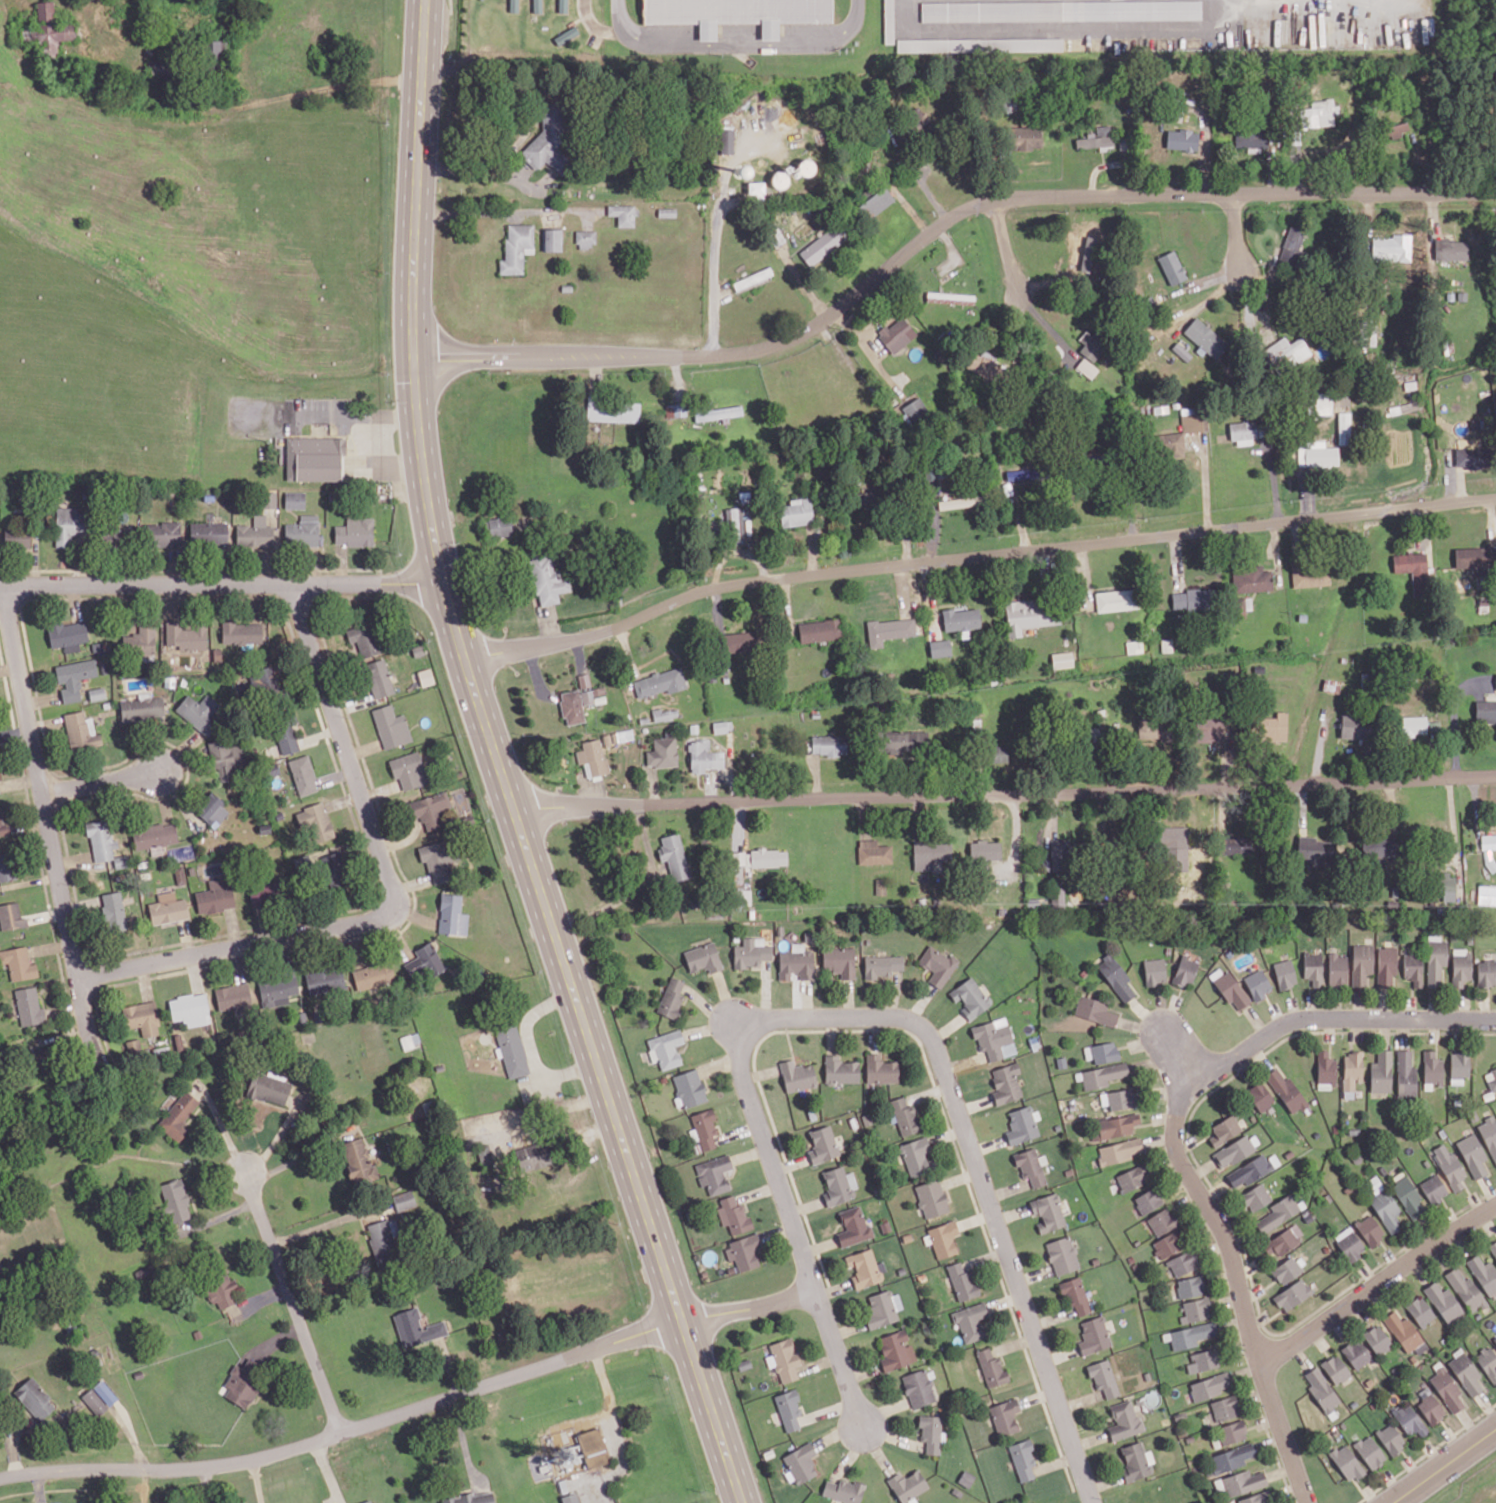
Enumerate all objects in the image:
building: (514, 5)
building: (537, 6)
building: (563, 6)
building: (1061, 10)
building: (736, 13)
road: (1320, 17)
building: (889, 21)
road: (1051, 26)
building: (50, 29)
road: (424, 33)
building: (566, 35)
road: (737, 41)
building: (979, 44)
building: (214, 49)
building: (1318, 114)
building: (919, 119)
building: (1394, 130)
building: (1023, 137)
building: (1250, 137)
building: (1097, 139)
building: (1181, 139)
building: (727, 140)
building: (547, 141)
building: (1110, 154)
road: (469, 172)
building: (779, 179)
building: (755, 188)
building: (876, 202)
building: (667, 212)
building: (623, 214)
road: (937, 228)
road: (1236, 233)
building: (552, 239)
building: (585, 239)
building: (823, 244)
building: (1291, 244)
building: (516, 247)
building: (1388, 247)
building: (1450, 249)
road: (1007, 252)
building: (1172, 267)
road: (713, 274)
building: (753, 278)
building: (950, 298)
building: (896, 334)
building: (1204, 338)
building: (1091, 345)
building: (1181, 351)
building: (1285, 352)
building: (984, 365)
building: (1087, 367)
building: (1323, 403)
building: (1402, 408)
building: (613, 409)
building: (675, 410)
building: (914, 410)
building: (718, 412)
building: (1193, 420)
building: (1343, 428)
building: (1243, 431)
building: (1167, 445)
building: (1317, 454)
building: (1470, 457)
building: (314, 458)
building: (1022, 474)
building: (269, 499)
building: (295, 500)
building: (960, 502)
building: (796, 512)
building: (68, 524)
building: (735, 525)
building: (500, 526)
building: (303, 531)
building: (208, 532)
building: (355, 532)
building: (255, 533)
building: (163, 534)
building: (113, 536)
building: (17, 537)
road: (975, 556)
building: (1470, 558)
building: (1413, 570)
street lamp: (325, 571)
building: (1310, 576)
building: (1251, 579)
building: (547, 580)
road: (221, 584)
building: (1193, 599)
building: (1116, 600)
building: (1244, 603)
building: (1028, 615)
building: (961, 619)
building: (819, 630)
building: (889, 630)
building: (241, 632)
building: (68, 635)
building: (186, 635)
building: (364, 639)
building: (140, 641)
building: (741, 641)
building: (1134, 646)
building: (940, 647)
building: (1062, 659)
building: (425, 676)
building: (74, 677)
building: (379, 678)
building: (584, 680)
building: (1495, 680)
building: (660, 682)
building: (266, 684)
building: (1331, 685)
building: (97, 693)
building: (587, 697)
building: (142, 707)
building: (572, 707)
building: (199, 712)
building: (665, 714)
building: (1413, 725)
building: (391, 726)
building: (722, 726)
building: (1354, 726)
building: (1434, 726)
building: (1271, 727)
building: (1154, 728)
building: (1208, 729)
building: (81, 731)
building: (286, 737)
building: (903, 741)
building: (829, 744)
road: (364, 748)
building: (662, 752)
building: (997, 753)
building: (704, 756)
building: (225, 757)
building: (592, 757)
building: (409, 770)
building: (303, 774)
road: (336, 776)
road: (102, 783)
building: (0, 789)
road: (380, 790)
road: (1005, 795)
road: (510, 796)
road: (344, 800)
building: (429, 809)
building: (212, 810)
building: (315, 821)
building: (2, 824)
road: (49, 824)
building: (154, 837)
building: (101, 840)
building: (1488, 841)
building: (1236, 844)
building: (1174, 847)
building: (1379, 847)
building: (1313, 848)
building: (985, 849)
building: (873, 852)
building: (931, 853)
building: (1059, 855)
building: (674, 856)
building: (306, 859)
building: (438, 859)
building: (756, 860)
building: (8, 865)
building: (334, 877)
road: (31, 880)
street lamp: (70, 883)
building: (1447, 887)
building: (264, 892)
building: (1486, 895)
building: (215, 896)
building: (1057, 897)
road: (390, 898)
building: (168, 908)
building: (114, 911)
building: (452, 915)
building: (11, 916)
road: (48, 916)
road: (233, 926)
road: (186, 938)
road: (51, 946)
building: (1267, 948)
street lamp: (149, 951)
building: (751, 952)
building: (1228, 952)
building: (703, 958)
building: (424, 960)
building: (840, 961)
building: (1436, 961)
building: (796, 962)
building: (18, 963)
building: (1361, 963)
building: (937, 965)
building: (1386, 965)
building: (882, 966)
building: (1461, 966)
building: (1313, 968)
building: (1413, 968)
building: (1337, 969)
building: (1154, 971)
building: (1184, 971)
road: (195, 973)
building: (1284, 973)
building: (1486, 973)
building: (373, 975)
building: (1115, 977)
building: (325, 980)
road: (145, 981)
building: (1256, 984)
building: (277, 988)
building: (1231, 991)
building: (233, 997)
building: (671, 998)
road: (848, 998)
building: (970, 998)
building: (29, 1006)
building: (1095, 1010)
street lamp: (926, 1013)
road: (855, 1016)
building: (141, 1017)
road: (1340, 1017)
road: (1256, 1020)
street lamp: (1446, 1028)
road: (1434, 1029)
road: (831, 1033)
road: (873, 1033)
building: (994, 1038)
road: (788, 1039)
building: (666, 1048)
building: (511, 1050)
building: (1101, 1051)
road: (1184, 1056)
road: (925, 1060)
building: (1326, 1067)
building: (1432, 1067)
building: (1458, 1067)
building: (880, 1069)
building: (1352, 1069)
building: (840, 1070)
road: (760, 1072)
building: (1381, 1072)
building: (1406, 1073)
building: (797, 1075)
building: (1102, 1075)
building: (1491, 1078)
building: (1005, 1082)
building: (690, 1087)
building: (268, 1089)
building: (1286, 1091)
road: (929, 1093)
building: (1260, 1096)
building: (856, 1097)
building: (1120, 1097)
building: (179, 1115)
building: (905, 1115)
building: (867, 1118)
building: (852, 1121)
building: (1021, 1124)
building: (1117, 1124)
building: (705, 1128)
road: (223, 1129)
building: (1224, 1130)
road: (737, 1132)
road: (947, 1134)
building: (1489, 1135)
building: (822, 1144)
building: (1118, 1150)
building: (1234, 1151)
road: (297, 1153)
road: (749, 1153)
building: (916, 1155)
building: (1472, 1155)
building: (358, 1159)
building: (534, 1161)
road: (790, 1163)
building: (1030, 1166)
building: (1448, 1166)
building: (1249, 1171)
building: (714, 1173)
road: (959, 1176)
building: (1131, 1178)
building: (836, 1185)
building: (1433, 1188)
road: (1488, 1189)
road: (757, 1191)
building: (931, 1197)
building: (1256, 1197)
building: (1408, 1197)
building: (175, 1200)
building: (404, 1200)
building: (1147, 1200)
street lamp: (1003, 1203)
road: (805, 1205)
building: (1387, 1211)
building: (1047, 1212)
building: (1278, 1213)
building: (733, 1214)
road: (791, 1218)
road: (975, 1218)
street lamp: (778, 1220)
building: (1162, 1220)
road: (324, 1225)
building: (884, 1225)
building: (853, 1227)
building: (1370, 1230)
building: (906, 1236)
building: (380, 1237)
building: (944, 1238)
building: (1284, 1241)
building: (1349, 1244)
road: (818, 1245)
building: (1166, 1245)
building: (1493, 1247)
building: (744, 1251)
building: (1062, 1255)
road: (984, 1258)
building: (1183, 1263)
building: (862, 1268)
building: (900, 1269)
building: (1287, 1270)
road: (1013, 1272)
building: (1483, 1273)
building: (962, 1280)
road: (1239, 1283)
road: (1378, 1284)
building: (1190, 1286)
road: (833, 1288)
building: (1466, 1290)
building: (222, 1291)
building: (1293, 1294)
building: (1075, 1295)
road: (265, 1296)
road: (1004, 1301)
building: (1444, 1301)
road: (293, 1303)
building: (882, 1308)
building: (1196, 1309)
building: (1420, 1311)
building: (970, 1321)
building: (416, 1327)
road: (847, 1328)
building: (1403, 1331)
building: (1094, 1335)
building: (1191, 1335)
building: (1377, 1339)
building: (1495, 1340)
road: (273, 1341)
road: (1014, 1343)
building: (896, 1350)
building: (1357, 1353)
building: (783, 1359)
building: (1204, 1359)
building: (1488, 1363)
building: (991, 1367)
building: (1335, 1368)
building: (1466, 1374)
building: (1104, 1377)
building: (1210, 1385)
building: (918, 1388)
building: (1321, 1388)
building: (1446, 1389)
building: (240, 1390)
building: (105, 1392)
road: (1036, 1396)
building: (34, 1399)
building: (94, 1402)
building: (1430, 1406)
building: (1225, 1408)
building: (788, 1409)
road: (412, 1410)
building: (1005, 1416)
building: (1124, 1420)
building: (1409, 1420)
street lamp: (1053, 1422)
building: (1232, 1431)
building: (930, 1432)
road: (1453, 1440)
building: (1379, 1446)
building: (593, 1447)
road: (1433, 1454)
building: (1231, 1458)
building: (1023, 1459)
building: (1136, 1461)
building: (801, 1462)
road: (1054, 1462)
building: (1346, 1462)
road: (1443, 1464)
road: (328, 1472)
building: (966, 1479)
road: (1103, 1481)
building: (1242, 1482)
building: (907, 1485)
building: (843, 1490)
building: (471, 1498)
building: (570, 1498)
building: (1254, 1498)
building: (367, 1501)

